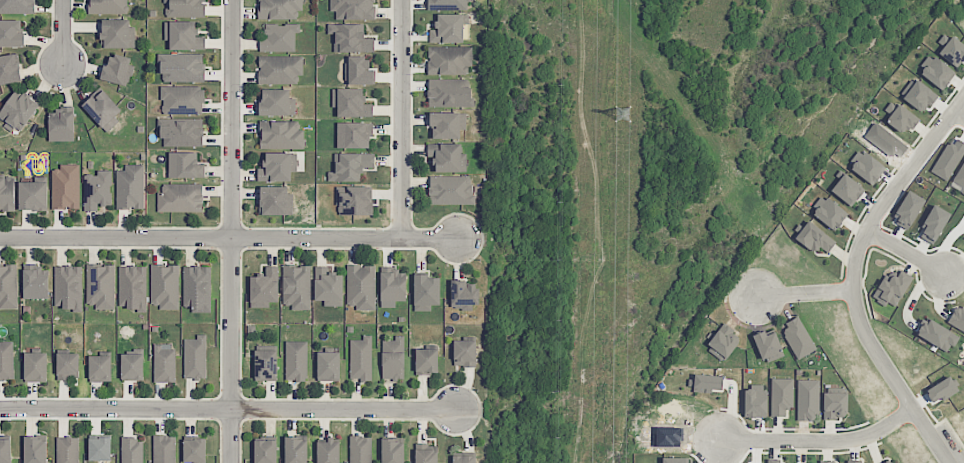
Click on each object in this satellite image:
building: (448, 4)
building: (17, 6)
building: (108, 6)
building: (184, 7)
building: (279, 9)
building: (353, 9)
building: (448, 28)
building: (11, 33)
road: (63, 33)
building: (117, 33)
building: (183, 35)
building: (279, 37)
building: (350, 38)
building: (951, 49)
building: (449, 60)
building: (181, 67)
building: (280, 68)
building: (9, 69)
building: (117, 69)
building: (359, 71)
building: (936, 72)
building: (449, 92)
building: (918, 95)
building: (182, 99)
building: (276, 102)
building: (351, 103)
building: (102, 109)
building: (17, 111)
road: (959, 114)
power tower: (623, 115)
building: (899, 117)
road: (402, 119)
building: (61, 125)
building: (447, 125)
building: (182, 132)
building: (283, 134)
building: (355, 134)
building: (447, 157)
building: (949, 158)
building: (185, 165)
building: (350, 166)
building: (277, 167)
building: (866, 167)
building: (959, 180)
building: (66, 187)
building: (130, 187)
building: (451, 189)
building: (847, 189)
building: (97, 190)
building: (7, 192)
building: (33, 195)
building: (180, 198)
building: (275, 200)
building: (354, 200)
building: (828, 212)
building: (933, 224)
road: (233, 231)
road: (228, 238)
building: (814, 238)
road: (906, 253)
road: (855, 277)
building: (35, 282)
building: (8, 286)
building: (100, 286)
building: (165, 286)
building: (296, 286)
building: (328, 286)
building: (361, 286)
building: (392, 286)
building: (68, 287)
building: (132, 287)
building: (197, 288)
building: (264, 288)
building: (891, 289)
building: (426, 292)
building: (463, 293)
road: (805, 295)
building: (957, 318)
building: (937, 335)
building: (798, 338)
building: (723, 342)
building: (767, 345)
building: (464, 353)
building: (195, 357)
building: (361, 358)
building: (393, 358)
building: (6, 360)
building: (296, 361)
building: (426, 361)
building: (266, 363)
building: (163, 364)
building: (328, 365)
building: (35, 366)
building: (67, 366)
building: (132, 366)
building: (100, 368)
building: (705, 383)
building: (941, 390)
building: (781, 396)
building: (807, 399)
building: (754, 401)
building: (835, 405)
road: (228, 409)
road: (820, 442)
building: (99, 448)
building: (35, 449)
building: (67, 449)
building: (164, 449)
building: (296, 449)
building: (360, 449)
building: (5, 450)
building: (132, 450)
building: (194, 450)
building: (392, 450)
building: (265, 451)
building: (328, 451)
building: (426, 453)
building: (464, 459)
building: (673, 460)
building: (773, 460)
building: (826, 461)
building: (853, 461)
building: (890, 461)

